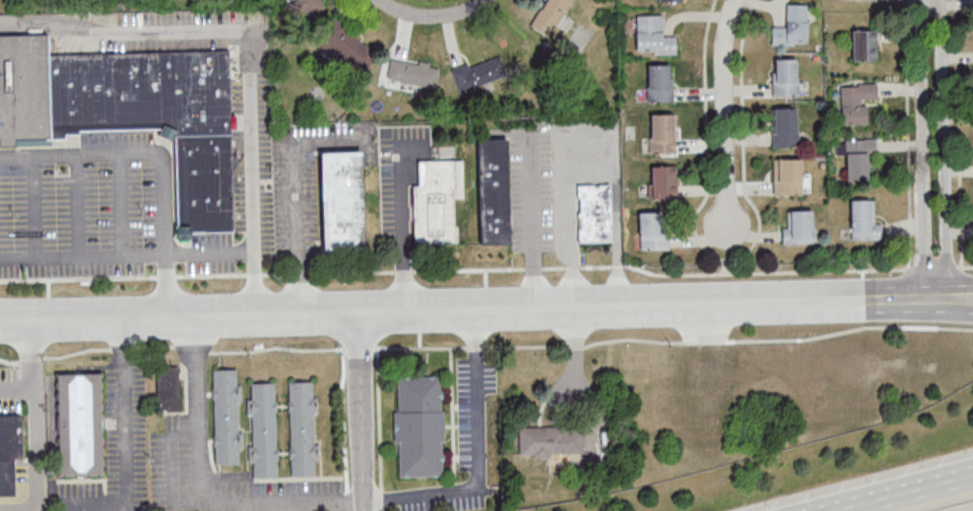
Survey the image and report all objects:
building: (551, 14)
road: (429, 15)
building: (792, 26)
building: (653, 36)
building: (864, 44)
building: (345, 46)
building: (405, 72)
building: (475, 76)
building: (785, 77)
building: (659, 83)
road: (249, 96)
building: (856, 102)
road: (725, 110)
building: (130, 115)
building: (785, 127)
building: (662, 133)
road: (295, 143)
road: (923, 148)
road: (944, 148)
road: (132, 151)
building: (856, 156)
road: (593, 171)
building: (787, 176)
building: (664, 181)
building: (493, 195)
building: (437, 199)
building: (342, 200)
road: (121, 203)
road: (77, 205)
road: (35, 206)
parking lot: (88, 211)
building: (594, 216)
road: (532, 217)
road: (402, 218)
building: (864, 219)
building: (798, 227)
building: (654, 230)
road: (127, 254)
road: (486, 268)
road: (166, 284)
road: (964, 293)
road: (964, 303)
road: (477, 309)
road: (486, 346)
road: (16, 387)
building: (168, 387)
road: (361, 411)
building: (226, 415)
building: (79, 423)
building: (420, 425)
road: (33, 426)
building: (302, 427)
building: (263, 429)
building: (551, 440)
road: (123, 441)
building: (9, 449)
road: (478, 454)
road: (200, 474)
road: (909, 494)
road: (282, 502)

